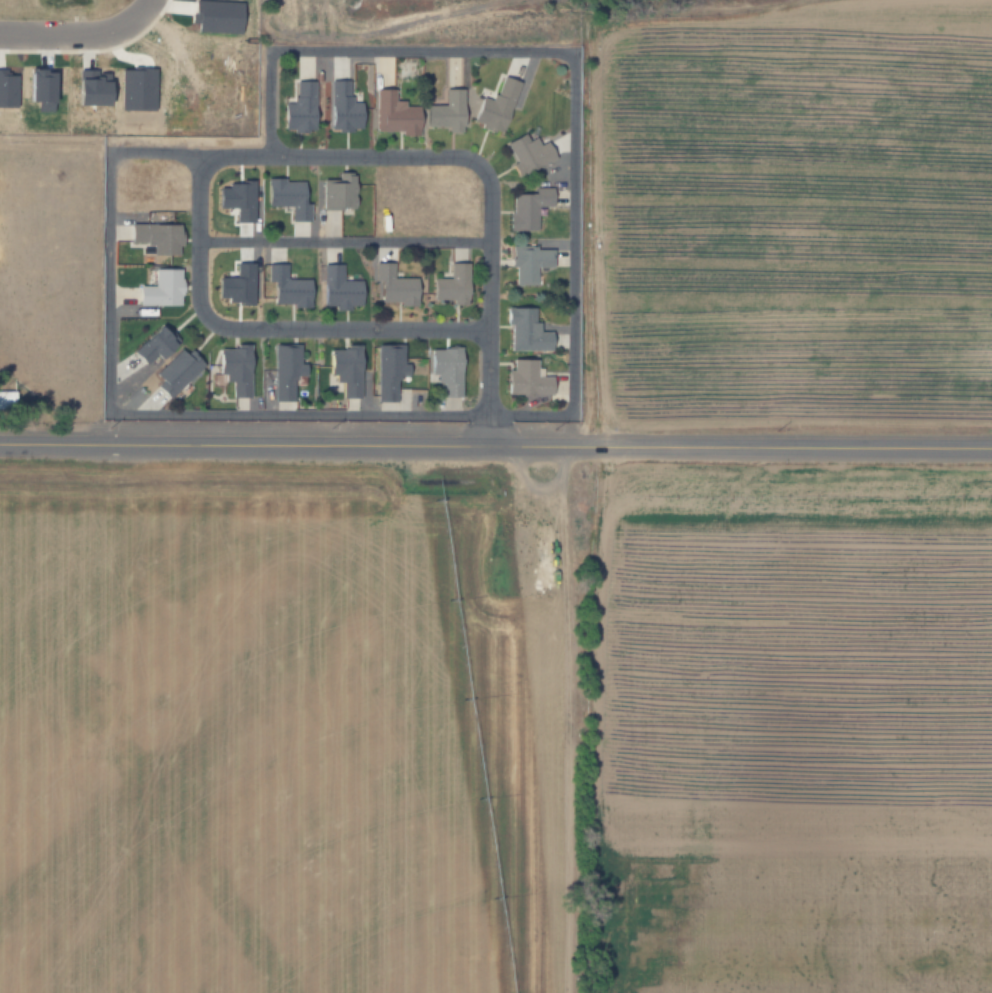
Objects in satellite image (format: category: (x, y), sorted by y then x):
building: (212, 16)
road: (81, 39)
building: (86, 88)
building: (35, 89)
building: (133, 89)
building: (6, 90)
building: (490, 105)
building: (339, 107)
building: (296, 108)
building: (441, 111)
building: (388, 113)
building: (521, 153)
road: (261, 158)
building: (335, 193)
building: (285, 196)
building: (242, 201)
building: (522, 207)
building: (157, 236)
road: (343, 246)
building: (524, 262)
building: (234, 285)
building: (450, 285)
building: (392, 287)
building: (284, 288)
building: (338, 288)
building: (164, 289)
building: (521, 329)
building: (160, 343)
building: (179, 369)
building: (445, 369)
building: (231, 370)
building: (285, 370)
building: (388, 370)
building: (341, 372)
building: (523, 378)
road: (536, 414)
road: (495, 446)
road: (567, 719)
crop: (495, 727)

